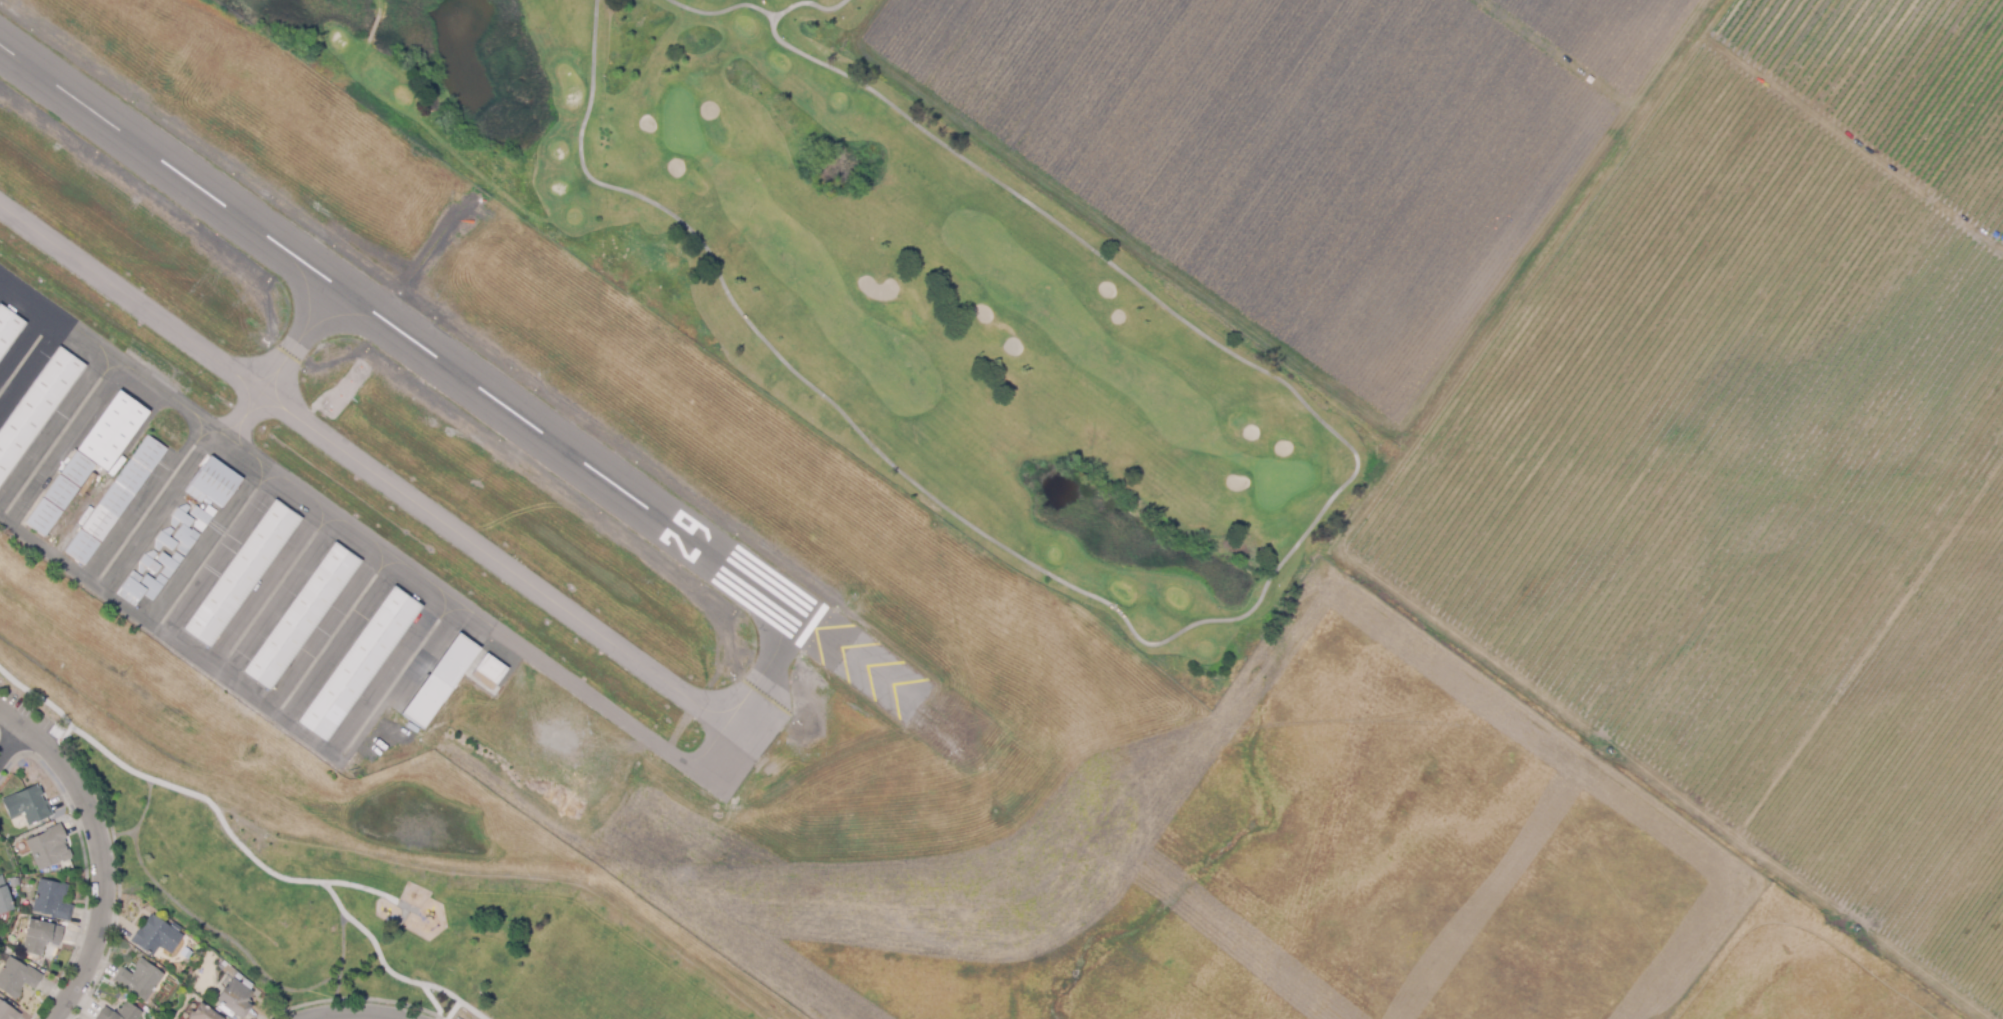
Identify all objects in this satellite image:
park: (886, 290)
airport hangar: (8, 331)
building: (8, 331)
airport taxiway: (292, 363)
airport runway: (454, 371)
airport hangar: (36, 408)
building: (36, 408)
airport hangar: (112, 431)
building: (112, 431)
airport hangar: (78, 471)
building: (78, 471)
airport hangar: (216, 483)
building: (216, 483)
airport hangar: (125, 489)
building: (125, 489)
airport hangar: (60, 493)
building: (60, 493)
airport hangar: (195, 495)
building: (195, 495)
airport taxiway: (423, 501)
airport hangar: (180, 517)
building: (180, 517)
airport hangar: (43, 518)
building: (43, 518)
airport hangar: (203, 518)
building: (203, 518)
airport hangar: (186, 540)
building: (186, 540)
airport hangar: (165, 541)
building: (165, 541)
airport hangar: (82, 549)
building: (82, 549)
airport hangar: (149, 565)
building: (149, 565)
airport hangar: (169, 565)
building: (169, 565)
airport hangar: (241, 575)
building: (241, 575)
airport hangar: (154, 587)
building: (154, 587)
airport: (638, 589)
airport hangar: (133, 591)
building: (133, 591)
airport hangar: (302, 618)
building: (302, 618)
airport hangar: (360, 666)
building: (360, 666)
airport hangar: (493, 671)
building: (493, 671)
airport hangar: (441, 682)
building: (441, 682)
road: (9, 741)
road: (163, 784)
building: (27, 805)
road: (234, 818)
road: (117, 836)
building: (46, 847)
road: (101, 852)
road: (355, 892)
building: (4, 898)
building: (52, 899)
road: (337, 902)
park: (390, 917)
road: (360, 930)
building: (37, 935)
building: (156, 936)
road: (223, 939)
building: (208, 969)
building: (16, 977)
building: (139, 980)
road: (422, 983)
building: (235, 998)
building: (7, 1012)
building: (119, 1013)
building: (202, 1013)

